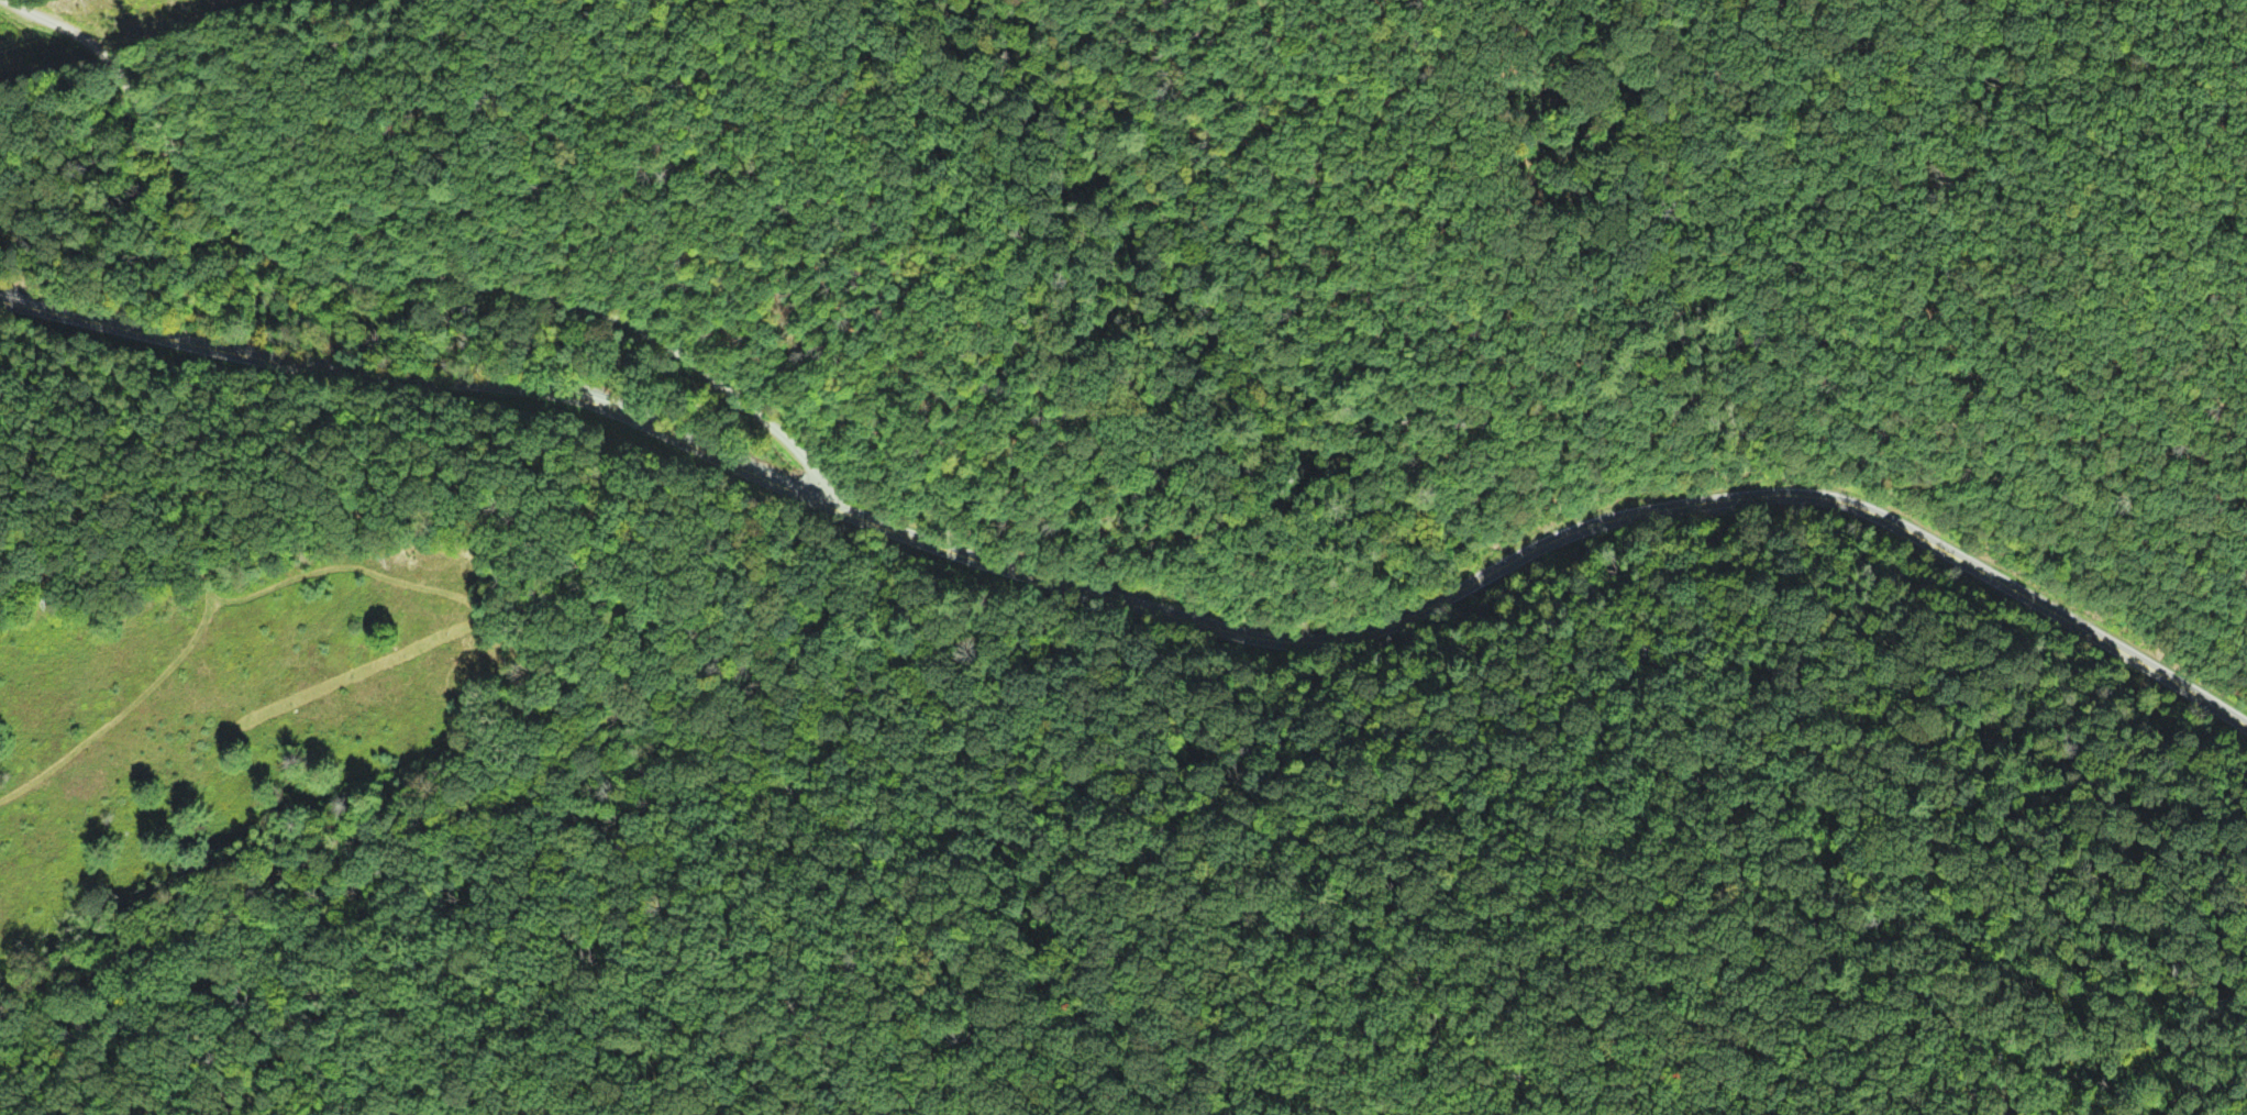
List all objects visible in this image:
road: (405, 281)
road: (1144, 606)

